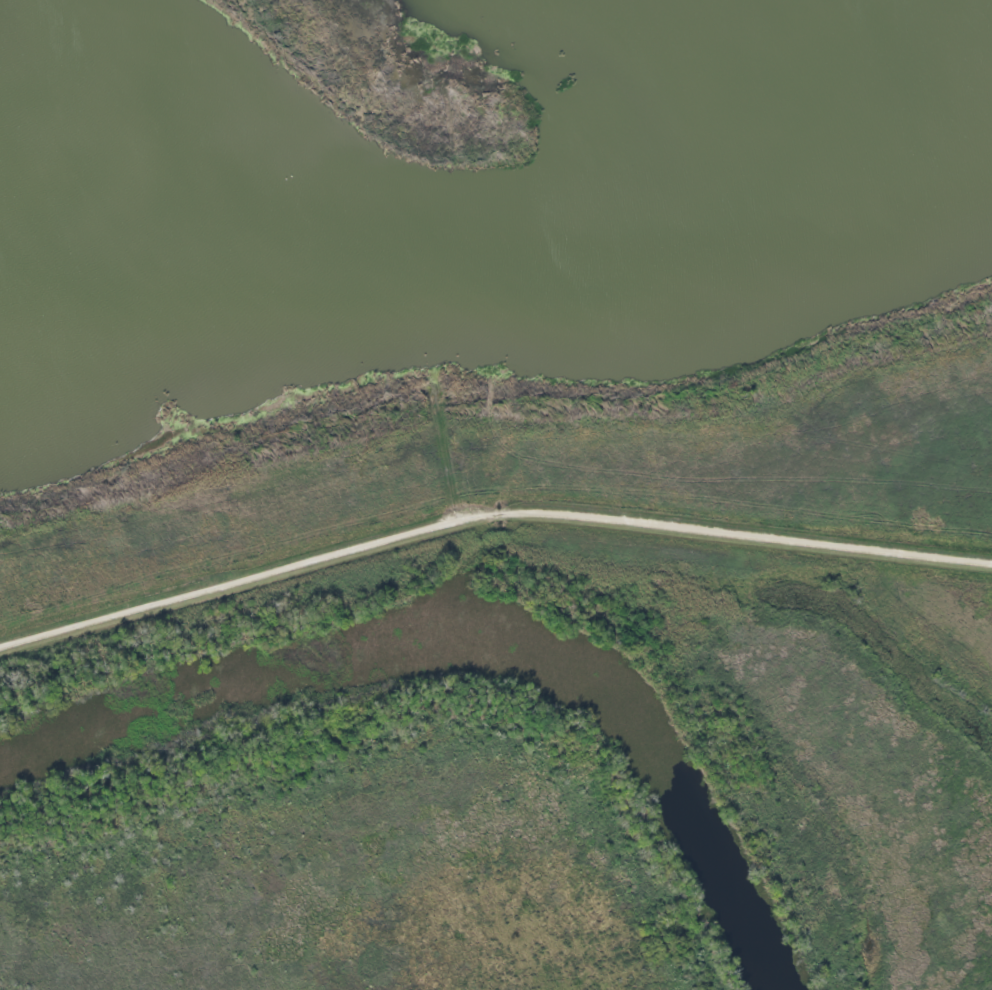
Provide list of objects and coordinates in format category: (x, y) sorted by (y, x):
road: (488, 515)

